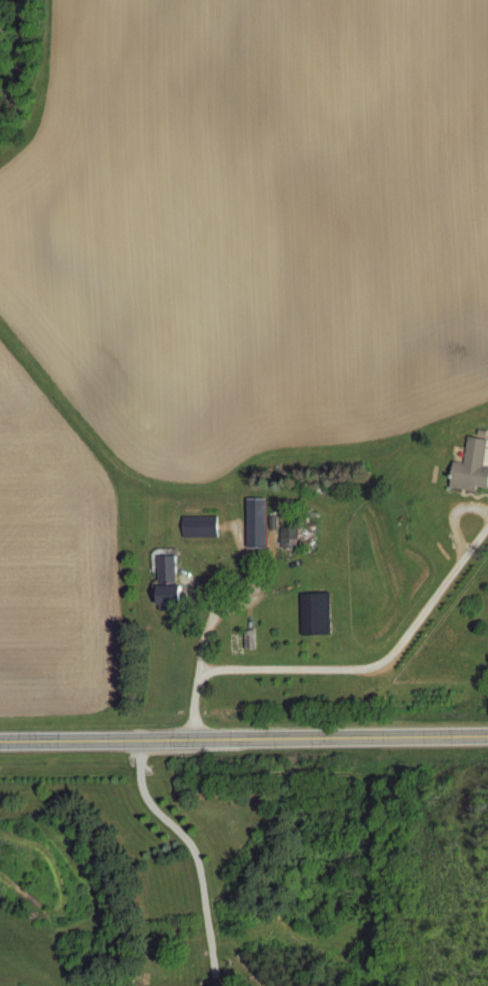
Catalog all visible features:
building: (469, 468)
building: (254, 523)
building: (197, 526)
building: (287, 538)
building: (163, 581)
building: (306, 614)
building: (248, 640)
road: (345, 658)
road: (243, 741)
road: (209, 854)

